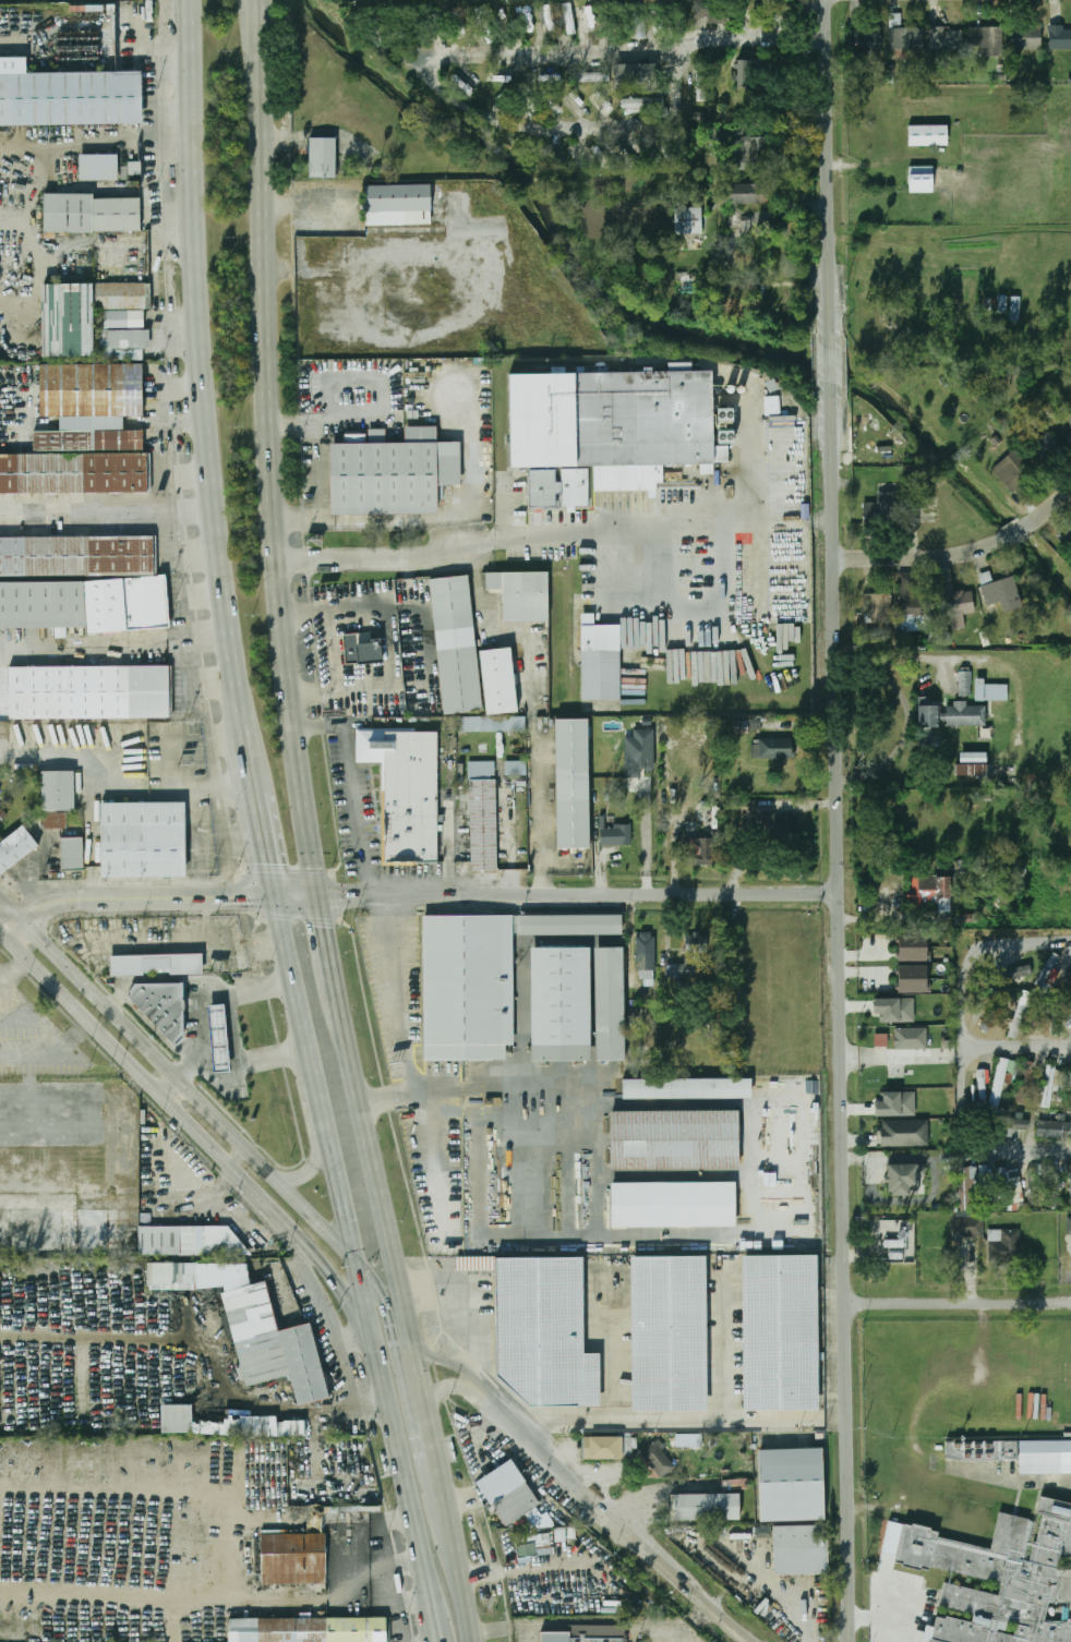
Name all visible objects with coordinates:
building: (713, 11)
building: (568, 19)
building: (642, 25)
building: (1025, 37)
building: (1059, 37)
building: (907, 38)
building: (947, 38)
building: (987, 39)
building: (866, 41)
road: (450, 55)
building: (744, 73)
building: (635, 76)
building: (591, 77)
building: (703, 79)
building: (70, 98)
building: (643, 105)
building: (928, 135)
road: (98, 136)
building: (724, 144)
building: (672, 152)
building: (750, 153)
building: (322, 157)
road: (829, 166)
building: (133, 167)
building: (97, 168)
building: (922, 180)
building: (745, 194)
building: (398, 205)
building: (91, 214)
building: (688, 221)
building: (1015, 309)
building: (69, 319)
river: (663, 329)
road: (831, 364)
road: (208, 384)
road: (266, 384)
road: (177, 389)
building: (91, 390)
building: (1069, 418)
road: (171, 423)
building: (611, 424)
building: (1069, 438)
building: (86, 444)
building: (1045, 450)
road: (190, 467)
building: (1015, 472)
building: (393, 474)
building: (72, 475)
building: (574, 486)
building: (542, 490)
road: (504, 508)
road: (109, 510)
building: (881, 510)
road: (1047, 511)
road: (674, 522)
road: (1016, 534)
building: (76, 556)
road: (385, 558)
road: (924, 560)
building: (1000, 591)
building: (520, 595)
building: (953, 597)
building: (82, 604)
road: (359, 605)
building: (914, 607)
building: (879, 612)
building: (456, 644)
building: (360, 648)
road: (335, 649)
road: (119, 650)
building: (602, 668)
building: (497, 683)
building: (964, 684)
road: (366, 688)
building: (990, 691)
building: (88, 693)
building: (965, 715)
building: (928, 723)
building: (492, 725)
building: (773, 749)
building: (639, 752)
building: (972, 764)
building: (517, 770)
road: (109, 772)
building: (573, 784)
road: (352, 787)
building: (0, 789)
building: (59, 790)
building: (406, 792)
road: (192, 809)
building: (0, 816)
building: (483, 817)
road: (540, 818)
building: (53, 820)
building: (775, 828)
road: (268, 831)
road: (308, 833)
building: (614, 836)
building: (143, 840)
road: (646, 845)
building: (15, 848)
building: (699, 852)
building: (72, 854)
traffic signals: (274, 861)
building: (930, 891)
road: (615, 895)
traffic signals: (242, 897)
road: (246, 897)
road: (354, 897)
road: (104, 898)
road: (299, 898)
traffic signals: (340, 898)
road: (894, 918)
building: (569, 925)
traffic signals: (324, 927)
road: (4, 935)
road: (326, 939)
building: (696, 943)
building: (913, 947)
building: (646, 951)
building: (160, 963)
road: (293, 969)
building: (681, 970)
building: (1048, 970)
road: (16, 973)
building: (1010, 975)
building: (1070, 977)
building: (913, 978)
building: (468, 987)
road: (961, 1001)
building: (165, 1002)
road: (9, 1003)
building: (561, 1004)
building: (610, 1005)
building: (1045, 1007)
building: (895, 1010)
building: (1052, 1012)
building: (990, 1014)
road: (842, 1018)
road: (43, 1021)
building: (1018, 1021)
building: (1069, 1021)
road: (398, 1025)
road: (236, 1030)
building: (222, 1035)
gas station: (222, 1035)
building: (911, 1038)
building: (881, 1040)
road: (313, 1059)
road: (179, 1077)
building: (1003, 1078)
road: (472, 1083)
building: (982, 1083)
building: (1025, 1084)
building: (1070, 1084)
road: (168, 1085)
building: (687, 1088)
building: (1048, 1089)
road: (322, 1101)
building: (896, 1104)
road: (473, 1112)
building: (1010, 1123)
building: (1051, 1128)
building: (904, 1134)
road: (322, 1138)
building: (674, 1142)
road: (437, 1148)
road: (967, 1148)
road: (236, 1154)
road: (221, 1157)
building: (1070, 1175)
road: (296, 1178)
building: (904, 1179)
building: (1008, 1183)
building: (1050, 1184)
building: (968, 1188)
building: (1033, 1192)
road: (341, 1194)
building: (986, 1194)
road: (522, 1202)
building: (673, 1205)
building: (1069, 1226)
building: (968, 1227)
road: (625, 1236)
road: (392, 1237)
building: (1006, 1239)
building: (190, 1241)
traffic signals: (359, 1265)
building: (171, 1275)
traffic signals: (336, 1278)
road: (470, 1296)
road: (960, 1303)
building: (543, 1331)
building: (780, 1331)
building: (670, 1333)
road: (374, 1335)
road: (215, 1343)
building: (270, 1343)
road: (722, 1351)
road: (611, 1352)
road: (397, 1355)
road: (460, 1367)
road: (455, 1384)
road: (832, 1417)
road: (663, 1421)
building: (227, 1424)
building: (604, 1447)
building: (1015, 1454)
building: (657, 1458)
road: (432, 1474)
road: (1008, 1480)
building: (791, 1485)
building: (507, 1493)
building: (706, 1508)
road: (417, 1522)
road: (449, 1522)
road: (614, 1524)
building: (543, 1541)
building: (802, 1552)
building: (296, 1553)
building: (1002, 1575)
road: (464, 1595)
road: (787, 1597)
road: (880, 1619)
road: (580, 1623)
building: (310, 1630)
building: (573, 1638)

